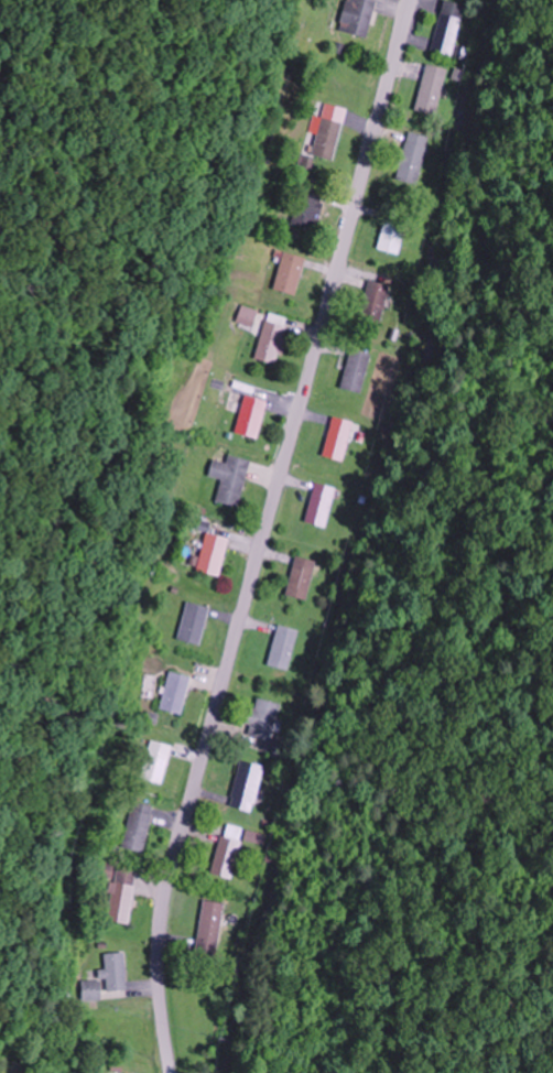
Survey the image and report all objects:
building: (357, 17)
building: (447, 28)
building: (431, 88)
building: (327, 138)
building: (412, 156)
building: (307, 207)
building: (392, 235)
building: (290, 272)
building: (375, 301)
building: (272, 337)
building: (355, 369)
building: (250, 415)
building: (336, 437)
building: (230, 478)
building: (319, 503)
road: (263, 533)
building: (212, 553)
building: (300, 577)
building: (193, 622)
building: (283, 647)
building: (175, 692)
building: (263, 717)
building: (156, 761)
building: (247, 785)
building: (139, 826)
building: (225, 856)
building: (121, 897)
building: (208, 926)
building: (115, 971)
building: (90, 989)

